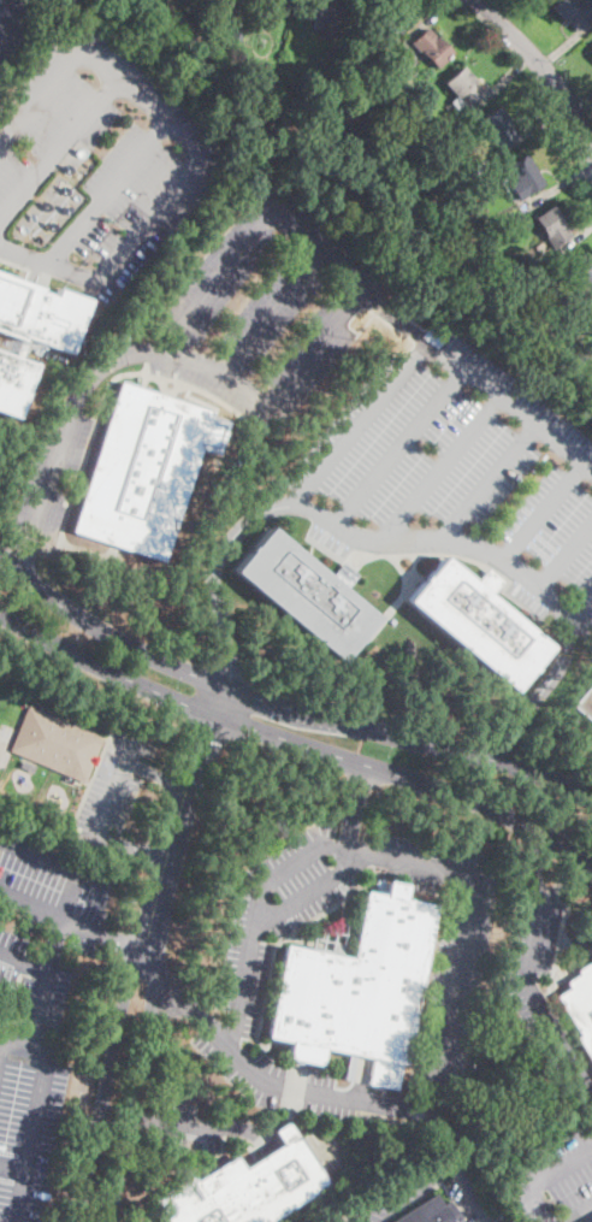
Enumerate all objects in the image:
building: (120, 0)
building: (271, 4)
road: (300, 5)
building: (330, 11)
building: (574, 12)
road: (7, 14)
building: (386, 18)
road: (428, 19)
parking lot: (14, 23)
building: (236, 31)
road: (567, 45)
building: (432, 47)
building: (591, 47)
building: (591, 49)
building: (348, 72)
road: (546, 72)
road: (501, 82)
building: (464, 89)
building: (243, 91)
building: (303, 99)
road: (580, 101)
building: (282, 116)
road: (545, 123)
building: (412, 126)
building: (335, 128)
building: (499, 129)
road: (201, 141)
road: (59, 147)
road: (591, 159)
parking lot: (97, 161)
building: (481, 164)
building: (449, 171)
building: (526, 176)
road: (560, 185)
road: (108, 189)
building: (552, 226)
building: (473, 230)
road: (576, 238)
road: (312, 243)
building: (491, 270)
building: (557, 272)
building: (582, 272)
road: (270, 309)
building: (40, 313)
parking lot: (220, 340)
building: (576, 360)
road: (101, 365)
building: (12, 383)
road: (511, 407)
road: (361, 425)
road: (399, 448)
road: (440, 467)
building: (143, 471)
parking lot: (456, 472)
road: (487, 483)
road: (541, 510)
road: (442, 539)
road: (566, 553)
road: (25, 559)
road: (213, 575)
building: (307, 594)
road: (580, 609)
building: (479, 621)
road: (106, 632)
building: (63, 651)
road: (537, 696)
building: (585, 703)
road: (297, 709)
road: (295, 742)
building: (57, 744)
road: (132, 746)
road: (484, 757)
building: (26, 767)
road: (155, 773)
parking lot: (112, 785)
road: (111, 796)
road: (355, 805)
building: (60, 817)
road: (177, 819)
road: (130, 846)
road: (300, 857)
road: (544, 863)
road: (57, 864)
road: (567, 879)
road: (310, 890)
building: (390, 890)
parking lot: (55, 892)
road: (52, 914)
road: (128, 941)
road: (24, 960)
road: (49, 960)
parking lot: (544, 985)
parking lot: (241, 987)
building: (357, 988)
road: (529, 996)
road: (183, 1004)
building: (580, 1005)
parking lot: (34, 1070)
road: (103, 1085)
road: (134, 1090)
road: (37, 1108)
road: (140, 1114)
road: (214, 1129)
parking lot: (197, 1131)
road: (325, 1150)
parking lot: (325, 1151)
road: (313, 1158)
road: (291, 1165)
road: (426, 1173)
road: (541, 1177)
parking lot: (556, 1182)
building: (244, 1188)
parking lot: (392, 1194)
building: (430, 1211)
road: (579, 1214)

